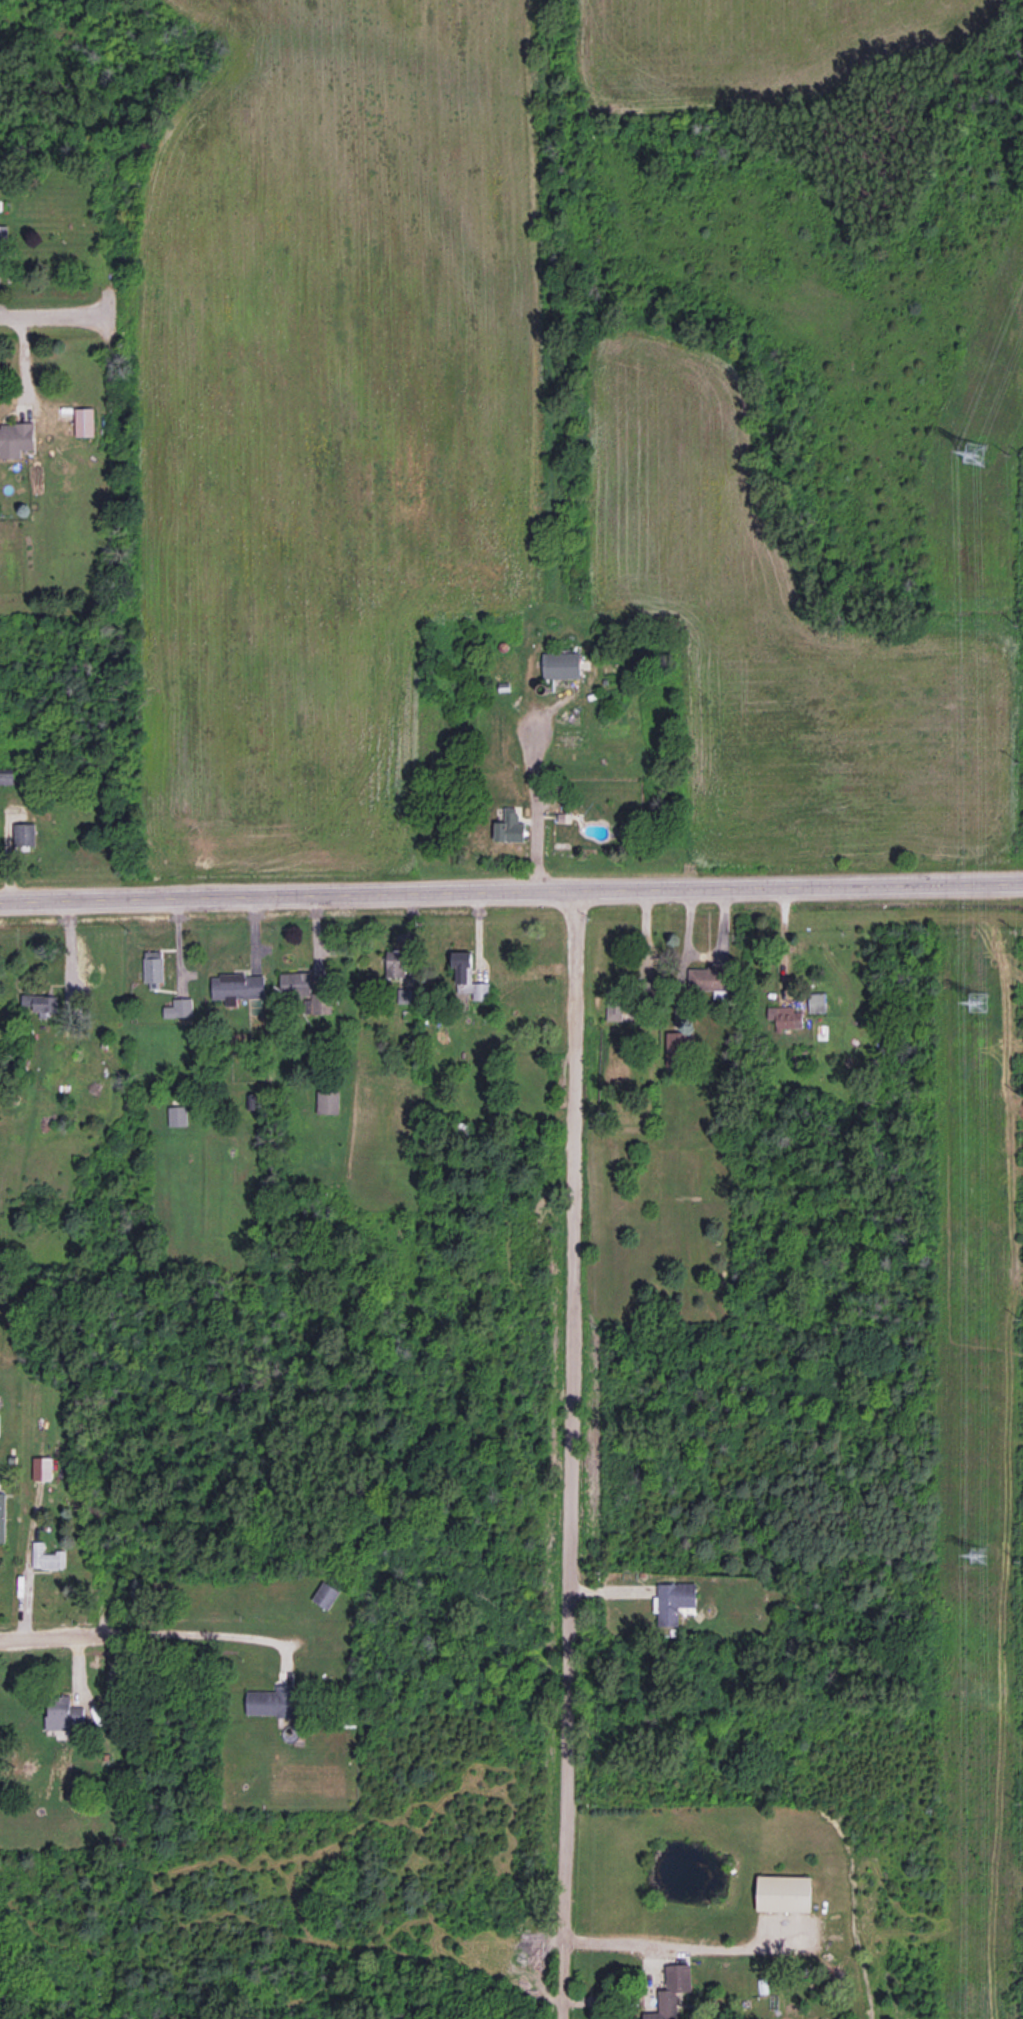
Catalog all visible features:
building: (3, 234)
road: (53, 314)
building: (84, 421)
building: (15, 439)
power tower: (973, 452)
building: (561, 665)
building: (6, 775)
road: (533, 809)
building: (510, 824)
building: (24, 833)
road: (511, 890)
road: (784, 940)
building: (395, 963)
building: (153, 968)
building: (468, 976)
building: (710, 979)
building: (295, 983)
building: (237, 987)
power tower: (977, 1001)
building: (816, 1002)
building: (41, 1003)
building: (614, 1004)
building: (179, 1008)
building: (785, 1017)
building: (677, 1048)
building: (328, 1101)
building: (177, 1115)
road: (567, 1454)
building: (42, 1468)
building: (2, 1516)
power tower: (978, 1553)
building: (47, 1557)
building: (326, 1595)
building: (674, 1601)
road: (212, 1633)
road: (65, 1636)
building: (271, 1701)
building: (62, 1714)
building: (784, 1893)
road: (676, 1948)
building: (671, 1991)
road: (627, 1998)

